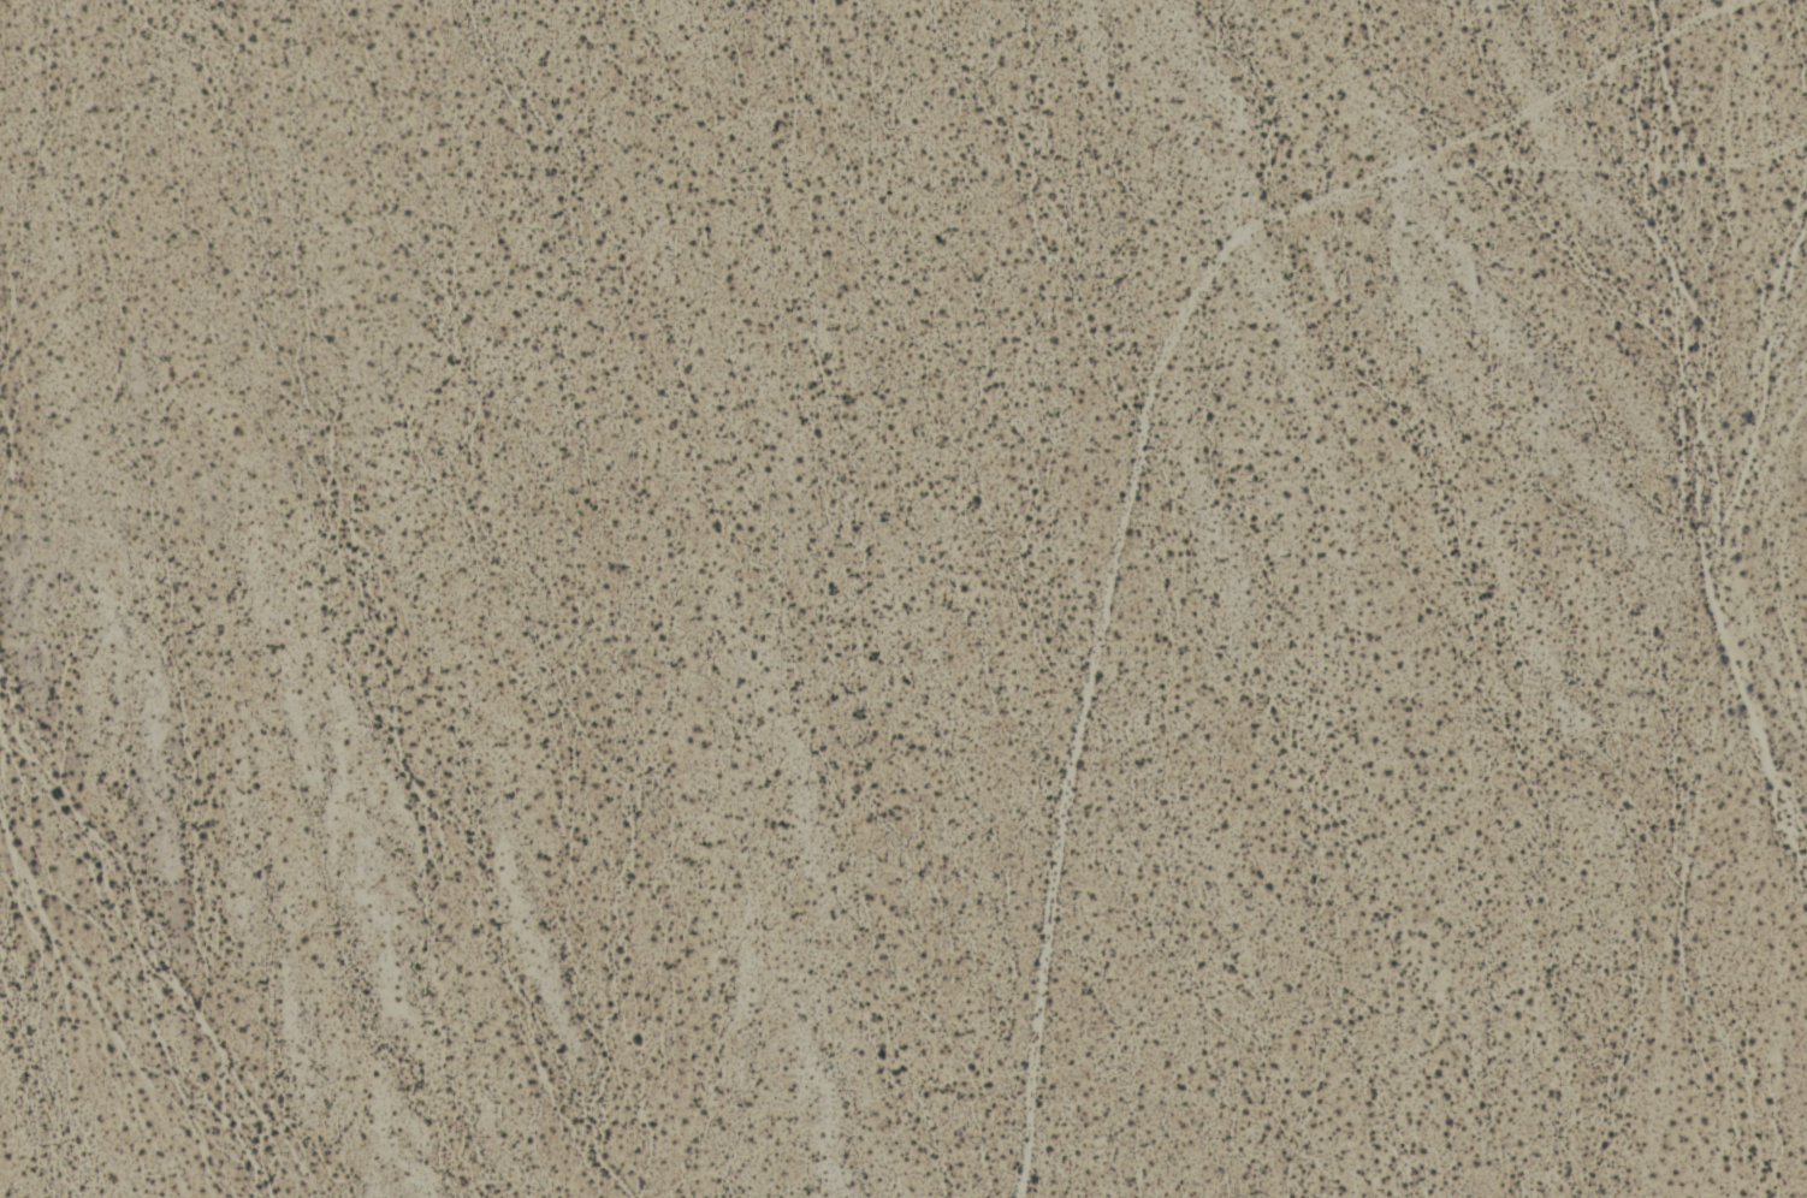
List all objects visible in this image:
road: (1153, 427)

